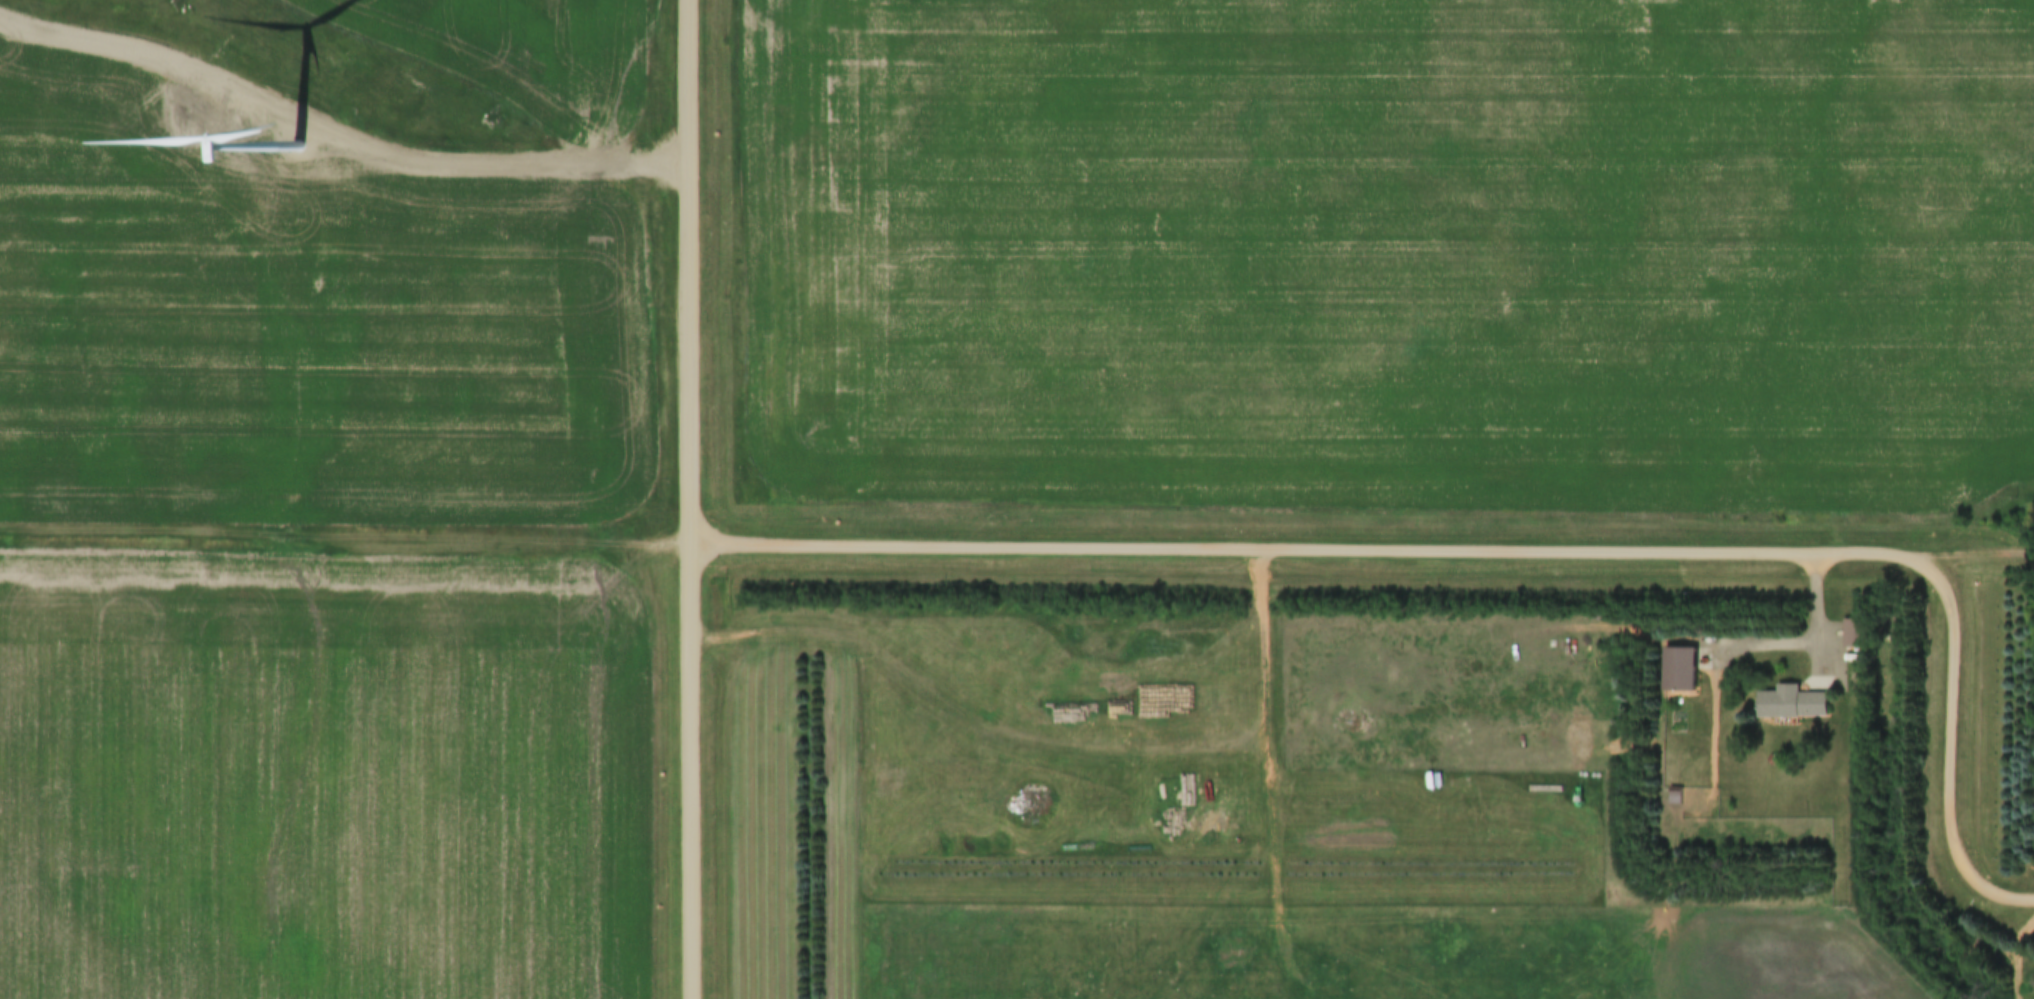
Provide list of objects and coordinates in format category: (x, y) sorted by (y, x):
wind turbine: (301, 148)
road: (691, 499)
road: (346, 526)
road: (1317, 549)
road: (1819, 620)
building: (1861, 634)
building: (1689, 667)
building: (1800, 703)
road: (1950, 760)
road: (2014, 957)

